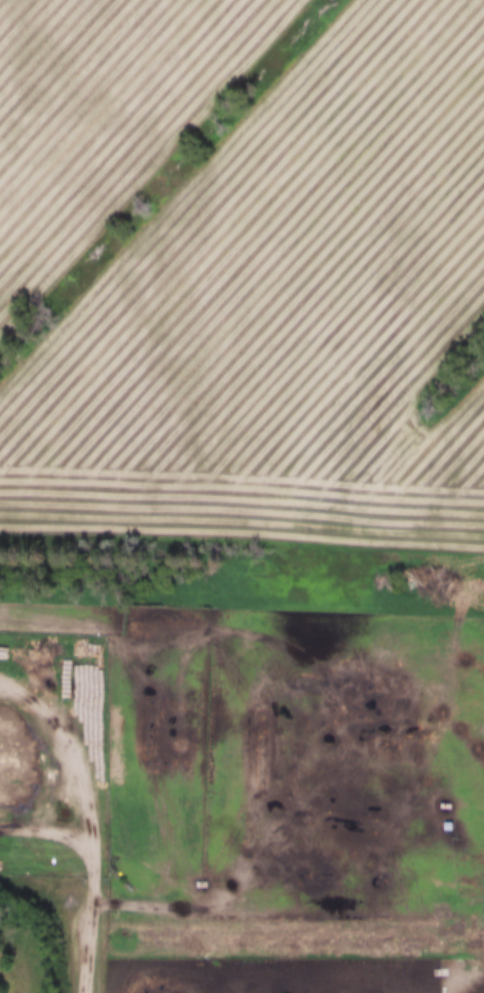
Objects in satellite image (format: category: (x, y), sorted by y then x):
road: (71, 829)

